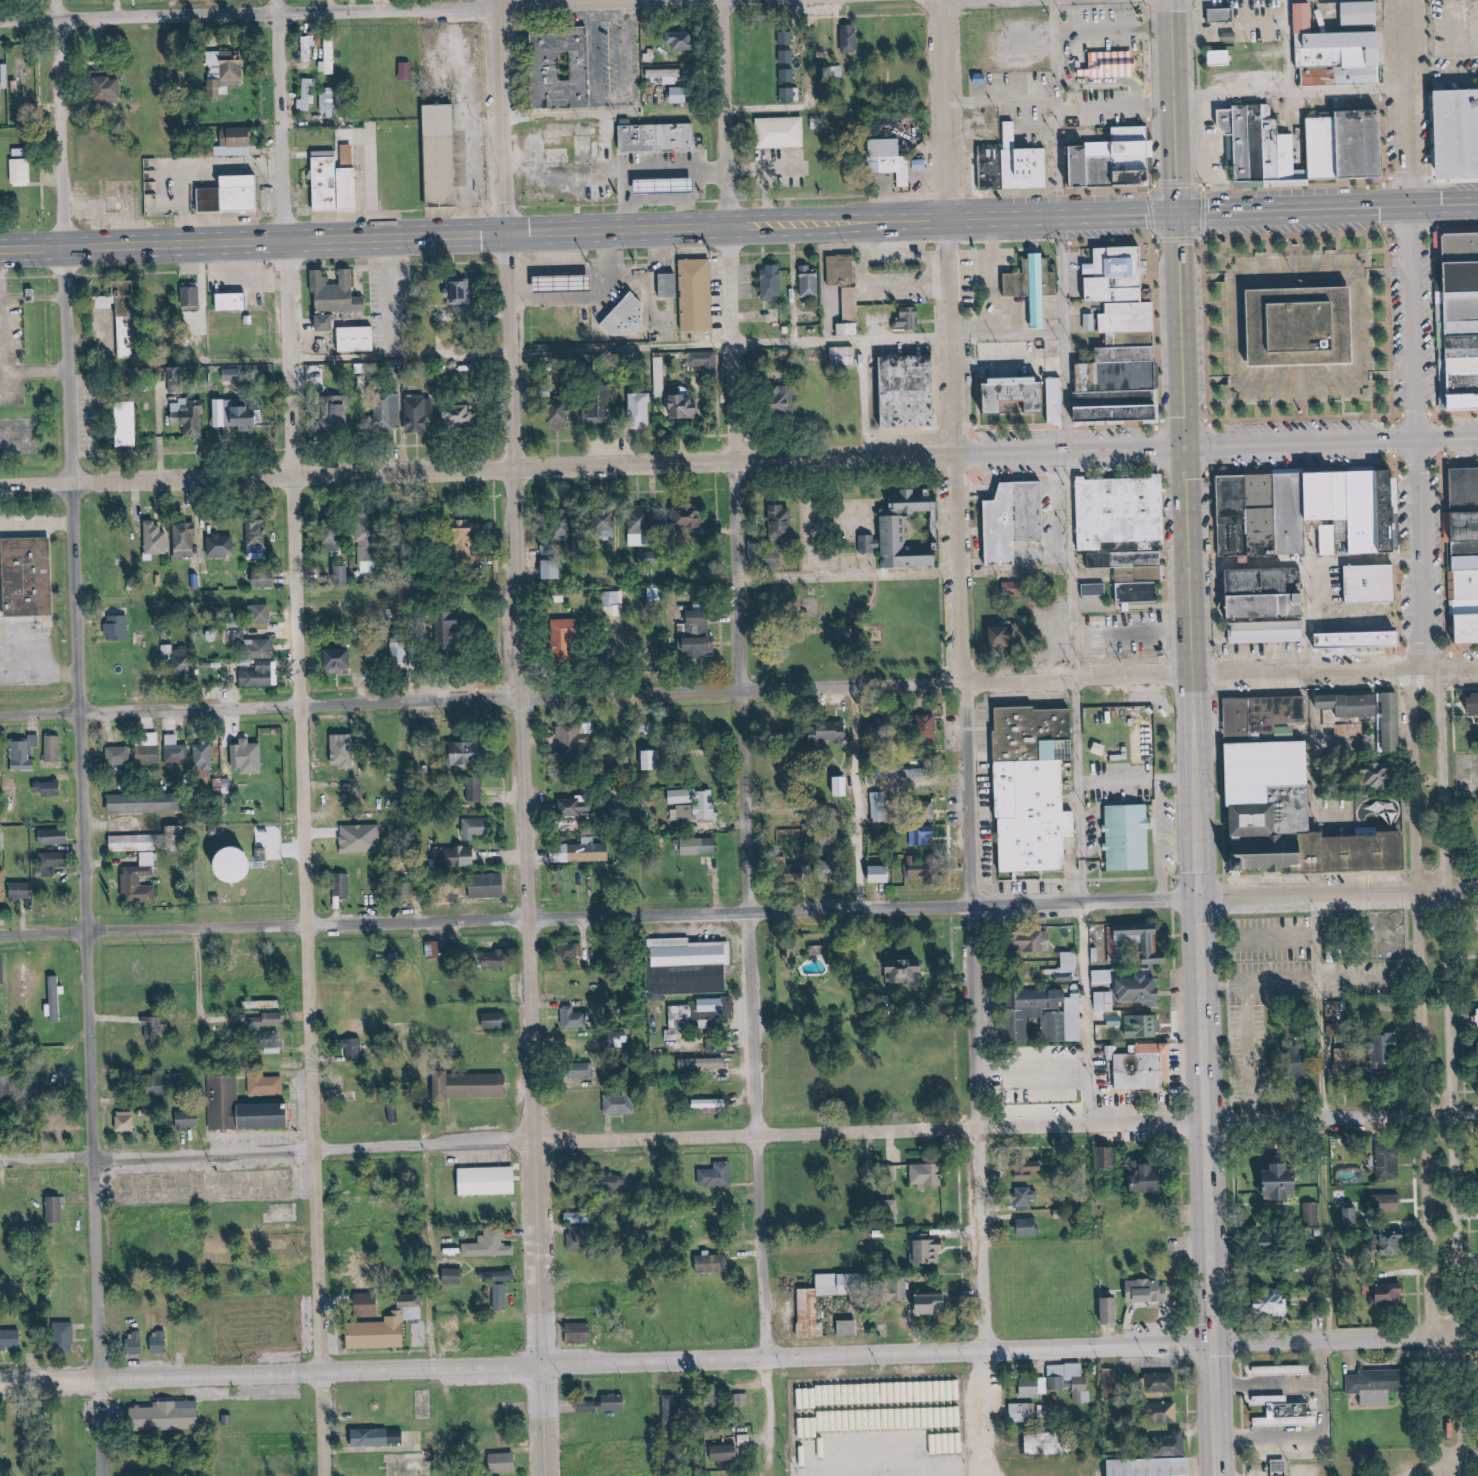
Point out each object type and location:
road: (625, 3)
road: (1477, 5)
road: (107, 8)
building: (1362, 13)
road: (244, 14)
building: (1218, 15)
road: (1260, 22)
road: (1106, 31)
building: (786, 38)
building: (850, 38)
building: (681, 41)
road: (1443, 43)
building: (309, 47)
building: (1340, 53)
building: (329, 57)
building: (787, 57)
road: (1261, 57)
building: (1212, 58)
building: (552, 66)
building: (13, 67)
building: (228, 67)
building: (1102, 67)
building: (407, 71)
building: (672, 73)
building: (789, 75)
building: (182, 76)
road: (1437, 76)
road: (1081, 84)
building: (110, 86)
road: (1293, 93)
building: (790, 94)
building: (681, 95)
road: (1227, 95)
building: (307, 96)
building: (327, 103)
road: (1170, 104)
road: (1050, 106)
parking lot: (1097, 108)
road: (1110, 108)
building: (1454, 130)
building: (775, 132)
building: (653, 136)
building: (237, 142)
building: (1354, 143)
building: (1316, 146)
building: (1271, 149)
building: (348, 156)
building: (437, 156)
building: (1110, 158)
building: (882, 159)
road: (460, 161)
building: (981, 166)
building: (1017, 170)
building: (22, 172)
building: (336, 184)
road: (1309, 184)
gas station: (666, 186)
building: (668, 186)
building: (233, 196)
traffic signals: (1402, 203)
traffic signals: (1173, 210)
road: (738, 223)
road: (1428, 229)
traffic signals: (498, 232)
building: (841, 270)
road: (1384, 271)
building: (1109, 274)
building: (772, 281)
building: (811, 281)
building: (565, 283)
building: (663, 285)
building: (1024, 285)
building: (459, 291)
road: (388, 295)
building: (692, 295)
building: (192, 296)
building: (327, 298)
building: (105, 301)
building: (233, 301)
building: (851, 312)
building: (1122, 316)
building: (1457, 317)
building: (618, 318)
building: (909, 318)
building: (128, 319)
building: (1091, 322)
building: (1294, 327)
road: (1408, 333)
road: (1057, 334)
road: (1000, 335)
building: (351, 339)
road: (834, 341)
road: (615, 349)
road: (391, 353)
building: (842, 357)
building: (706, 360)
road: (30, 371)
building: (315, 373)
building: (233, 374)
building: (660, 375)
road: (1388, 376)
building: (905, 390)
building: (788, 398)
building: (1003, 398)
road: (858, 400)
building: (1048, 401)
building: (686, 403)
building: (640, 408)
building: (342, 410)
building: (389, 411)
building: (237, 413)
building: (419, 413)
building: (563, 413)
building: (462, 414)
building: (192, 416)
road: (1383, 417)
building: (128, 424)
traffic signals: (1182, 451)
road: (991, 455)
road: (1465, 462)
road: (1420, 463)
road: (1295, 467)
road: (1180, 473)
road: (252, 478)
road: (1045, 478)
road: (803, 486)
building: (1469, 486)
building: (1315, 496)
road: (872, 500)
building: (1357, 511)
building: (1253, 515)
building: (692, 516)
building: (608, 521)
building: (786, 521)
building: (1469, 521)
building: (1012, 522)
building: (642, 528)
building: (893, 533)
building: (1118, 534)
road: (866, 538)
building: (156, 539)
building: (555, 539)
building: (1317, 539)
building: (1330, 539)
building: (185, 540)
building: (257, 540)
building: (336, 541)
building: (368, 543)
building: (467, 544)
building: (221, 545)
building: (1470, 545)
road: (1206, 559)
building: (1470, 561)
road: (1456, 564)
road: (1158, 566)
road: (1392, 566)
building: (554, 568)
road: (936, 569)
building: (341, 574)
road: (844, 576)
building: (22, 578)
building: (267, 578)
building: (1367, 583)
building: (1096, 589)
building: (1471, 589)
building: (1258, 593)
building: (654, 596)
building: (614, 603)
road: (857, 608)
building: (261, 613)
building: (119, 628)
building: (1471, 628)
building: (454, 632)
building: (1257, 634)
building: (702, 637)
building: (999, 638)
building: (566, 639)
building: (1353, 640)
building: (254, 646)
building: (402, 652)
building: (342, 659)
road: (1113, 661)
road: (1453, 665)
building: (260, 675)
road: (714, 694)
building: (1476, 703)
building: (1357, 705)
road: (1464, 706)
building: (1284, 710)
building: (1246, 716)
building: (1398, 720)
building: (932, 723)
building: (832, 732)
road: (738, 734)
building: (572, 736)
road: (74, 738)
road: (293, 738)
road: (511, 738)
road: (960, 738)
road: (1321, 745)
building: (54, 749)
building: (344, 750)
building: (176, 751)
building: (470, 752)
building: (24, 753)
building: (149, 753)
building: (120, 755)
building: (204, 756)
building: (249, 756)
building: (653, 759)
building: (1273, 763)
building: (895, 773)
building: (1386, 773)
building: (1369, 778)
building: (844, 786)
building: (475, 787)
building: (1027, 787)
building: (49, 788)
building: (1370, 789)
road: (848, 799)
building: (146, 803)
building: (695, 803)
building: (578, 807)
building: (879, 807)
road: (1342, 815)
building: (476, 828)
building: (55, 837)
building: (1120, 837)
building: (362, 838)
building: (136, 842)
road: (1194, 842)
building: (1317, 845)
building: (701, 846)
building: (581, 852)
building: (458, 857)
road: (1324, 859)
building: (51, 862)
building: (927, 863)
building: (242, 864)
water tower: (224, 865)
building: (882, 874)
road: (1237, 876)
building: (141, 879)
building: (410, 883)
road: (1418, 884)
building: (347, 885)
building: (489, 885)
building: (3, 886)
building: (22, 891)
road: (1377, 892)
road: (1234, 895)
traffic signals: (1198, 900)
road: (1000, 906)
road: (261, 928)
road: (1326, 938)
building: (1033, 940)
building: (1145, 940)
road: (1263, 943)
building: (1332, 944)
building: (572, 950)
building: (1067, 965)
building: (688, 967)
building: (2, 972)
building: (910, 973)
road: (1263, 981)
building: (55, 985)
building: (1132, 985)
parking lot: (1273, 985)
road: (1461, 996)
road: (1428, 1000)
building: (711, 1005)
road: (1237, 1012)
road: (1079, 1014)
building: (1048, 1016)
road: (1167, 1017)
building: (575, 1018)
building: (681, 1019)
building: (270, 1020)
building: (496, 1020)
building: (1145, 1026)
building: (154, 1029)
building: (356, 1049)
building: (1393, 1049)
road: (1261, 1050)
building: (1346, 1058)
building: (703, 1063)
park: (1447, 1066)
building: (585, 1070)
building: (1130, 1072)
building: (256, 1084)
building: (473, 1086)
building: (161, 1088)
building: (214, 1102)
building: (711, 1103)
building: (621, 1105)
building: (395, 1114)
building: (257, 1115)
building: (190, 1120)
building: (128, 1122)
road: (1168, 1125)
road: (1241, 1125)
building: (57, 1126)
parking lot: (260, 1131)
road: (738, 1135)
building: (1111, 1158)
building: (1389, 1161)
building: (1033, 1170)
road: (1424, 1173)
building: (930, 1175)
building: (718, 1176)
building: (1149, 1177)
building: (484, 1181)
parking lot: (199, 1182)
building: (616, 1182)
building: (1288, 1182)
building: (1026, 1198)
building: (1389, 1203)
building: (56, 1209)
building: (1312, 1214)
building: (579, 1217)
building: (1352, 1217)
building: (1029, 1227)
road: (1176, 1231)
road: (1240, 1233)
building: (580, 1238)
building: (1278, 1242)
building: (1396, 1243)
building: (491, 1246)
building: (930, 1250)
road: (419, 1258)
building: (715, 1264)
building: (364, 1273)
building: (456, 1276)
building: (500, 1277)
building: (843, 1284)
building: (902, 1289)
building: (1148, 1291)
building: (1388, 1295)
building: (503, 1297)
building: (369, 1304)
building: (938, 1304)
building: (1273, 1305)
building: (415, 1307)
building: (1114, 1311)
building: (811, 1314)
parking lot: (312, 1326)
building: (851, 1328)
building: (582, 1332)
building: (452, 1334)
road: (1240, 1334)
building: (367, 1336)
building: (66, 1337)
building: (11, 1340)
building: (161, 1342)
traffic signals: (1213, 1342)
building: (136, 1343)
road: (1183, 1344)
road: (738, 1357)
building: (1291, 1368)
building: (1071, 1380)
building: (1161, 1382)
building: (1111, 1383)
road: (1273, 1385)
building: (1381, 1385)
building: (1035, 1387)
road: (1311, 1394)
building: (743, 1400)
road: (1442, 1402)
road: (1475, 1402)
building: (615, 1403)
building: (589, 1407)
road: (1185, 1408)
road: (1241, 1408)
building: (674, 1409)
building: (1164, 1412)
building: (1287, 1412)
building: (1024, 1413)
building: (169, 1417)
building: (30, 1423)
road: (1322, 1436)
building: (380, 1437)
building: (1049, 1443)
building: (1174, 1445)
building: (726, 1453)
building: (505, 1462)
building: (1281, 1466)
building: (1152, 1467)
road: (764, 1472)

